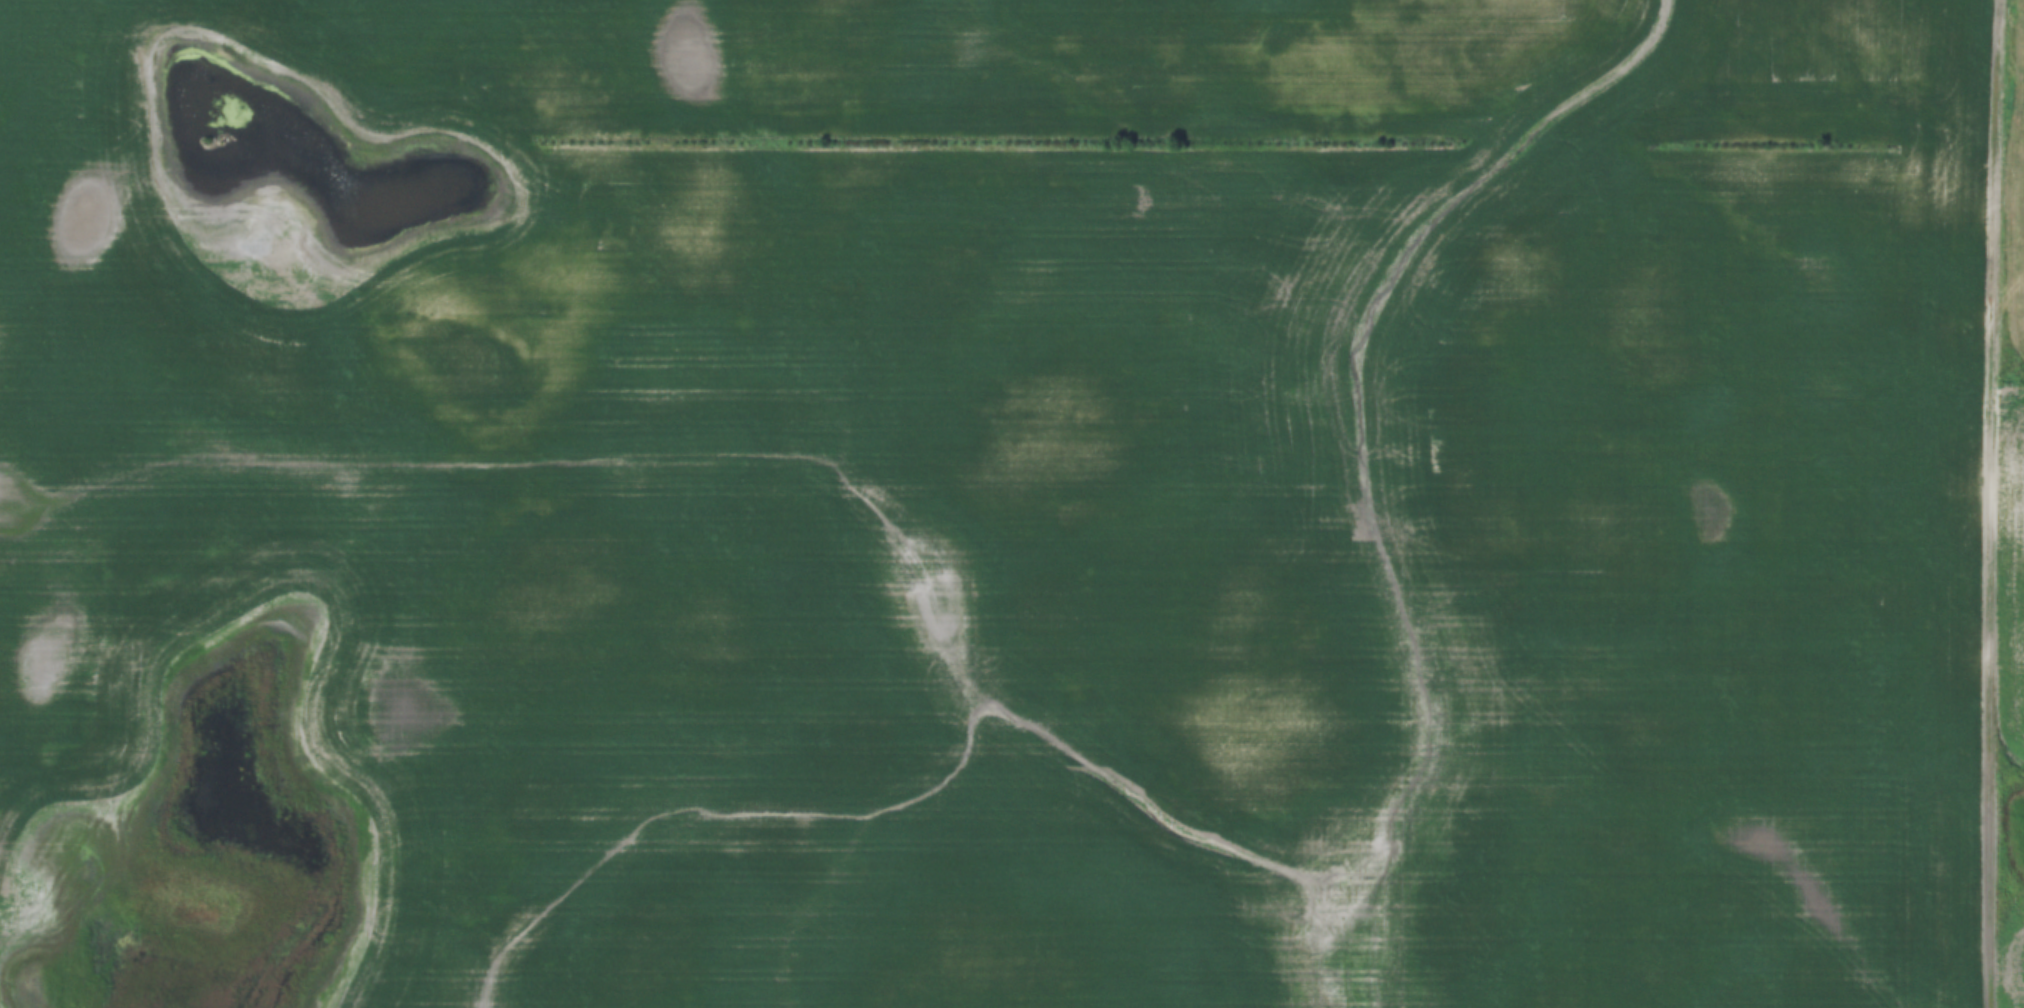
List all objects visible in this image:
road: (1991, 503)

